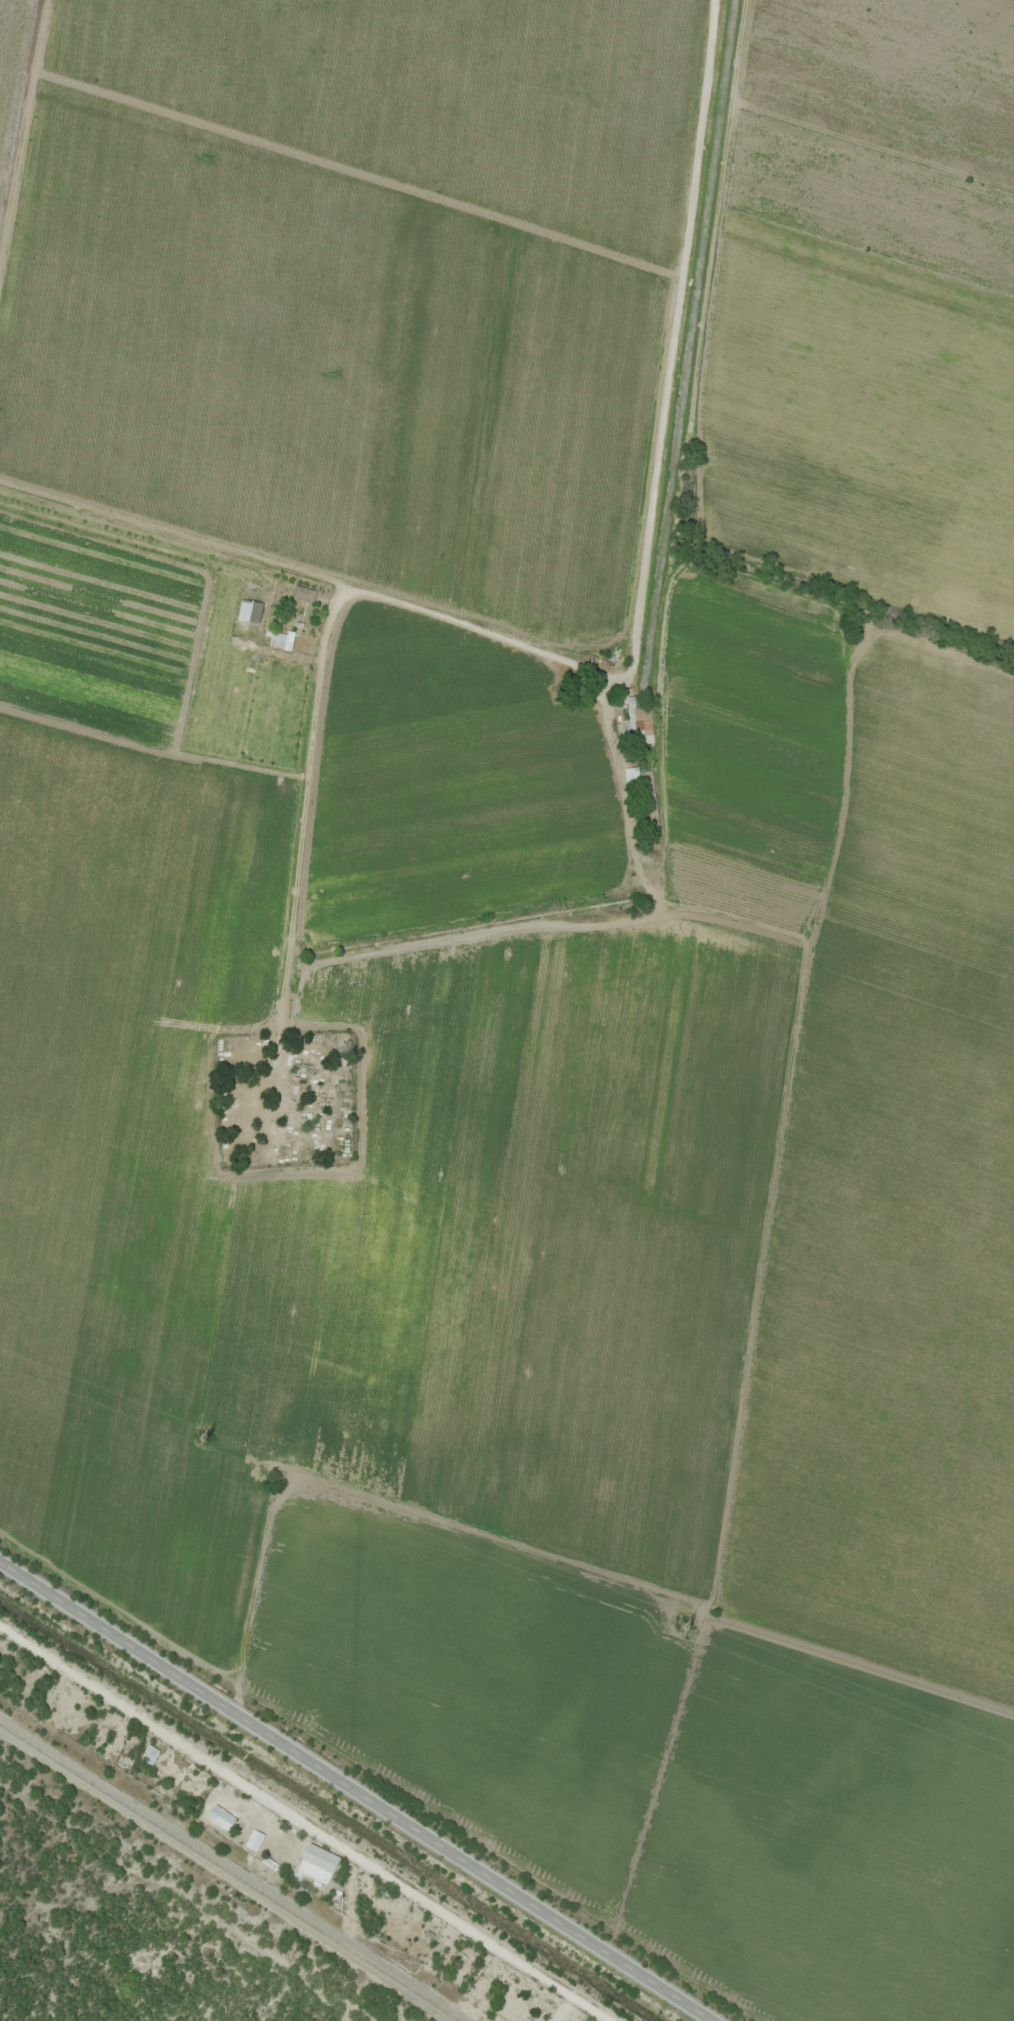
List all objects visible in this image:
park: (284, 1102)
power tower: (204, 1437)
power tower: (684, 1627)

